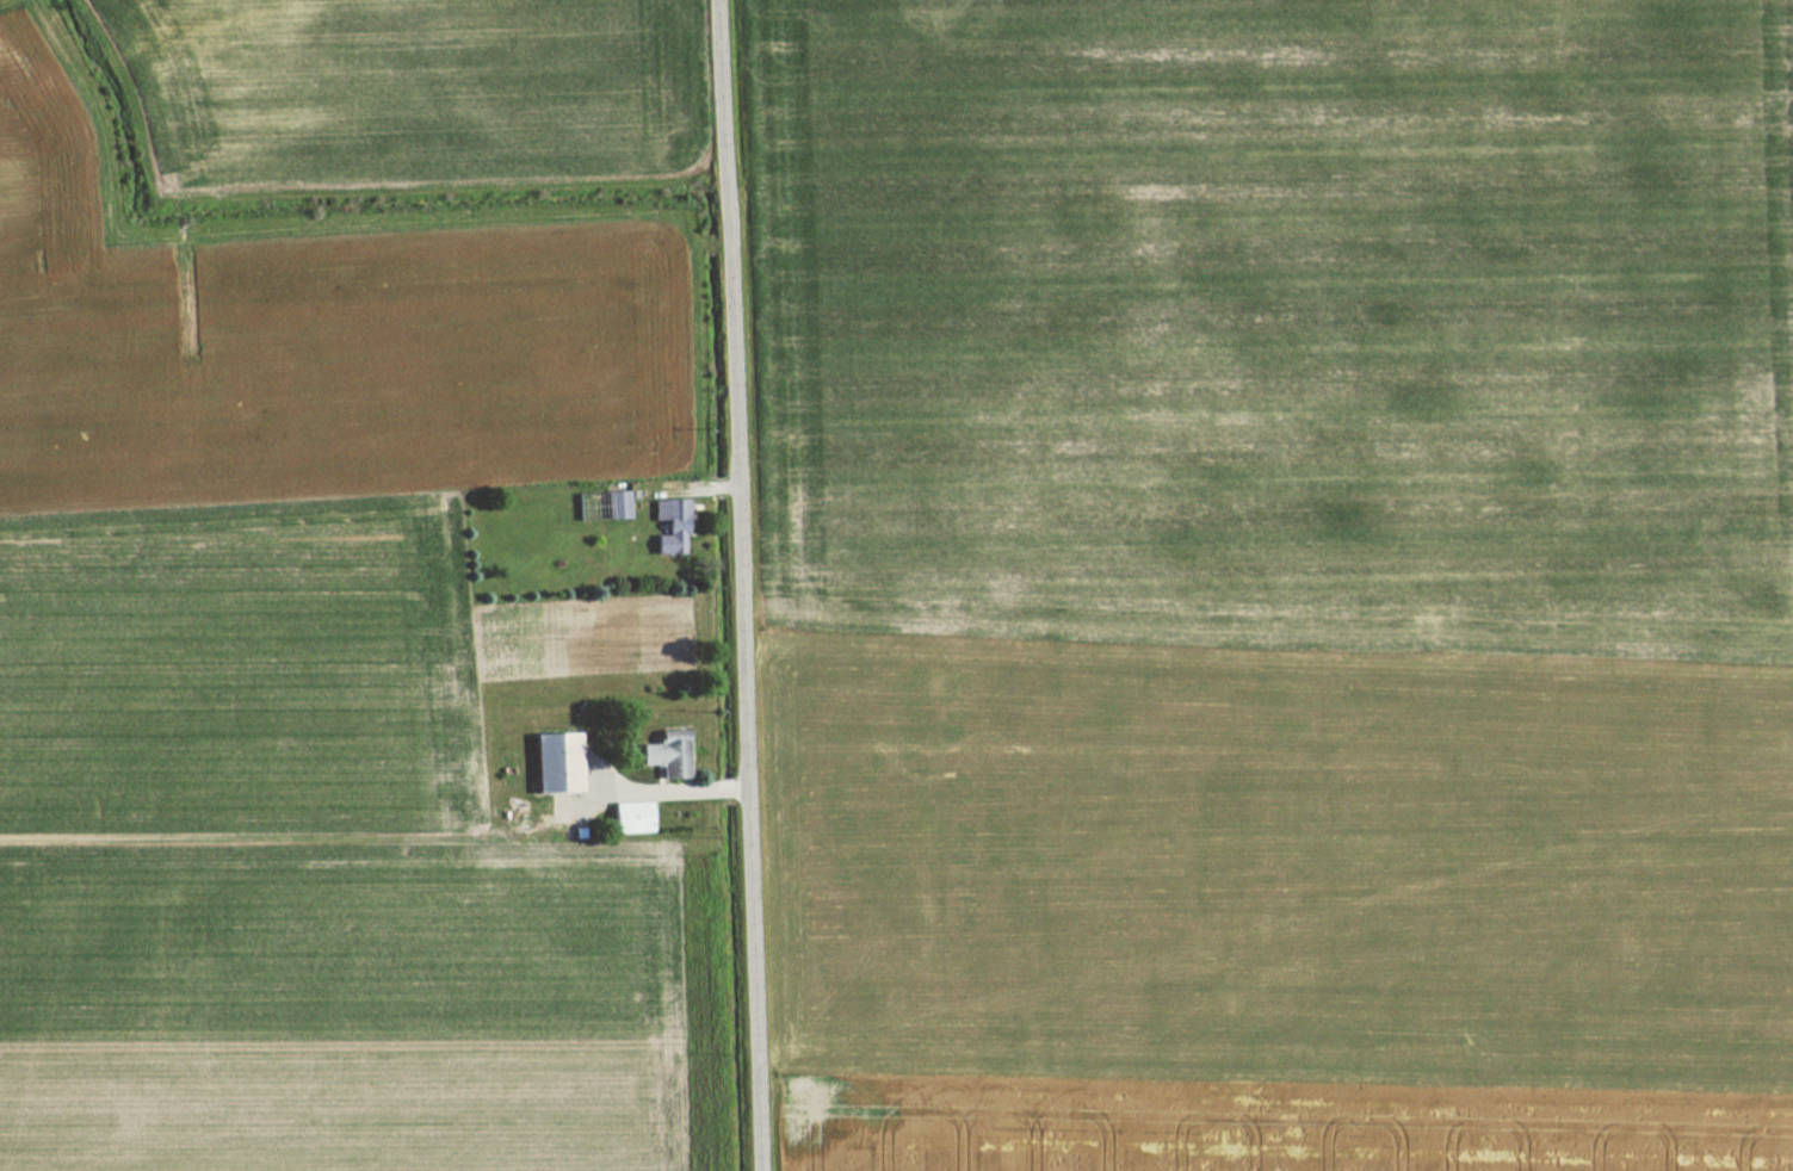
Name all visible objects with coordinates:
crop: (401, 92)
crop: (313, 346)
building: (614, 506)
building: (668, 527)
crop: (1284, 582)
road: (744, 585)
building: (664, 752)
building: (554, 761)
building: (629, 817)
crop: (292, 867)

